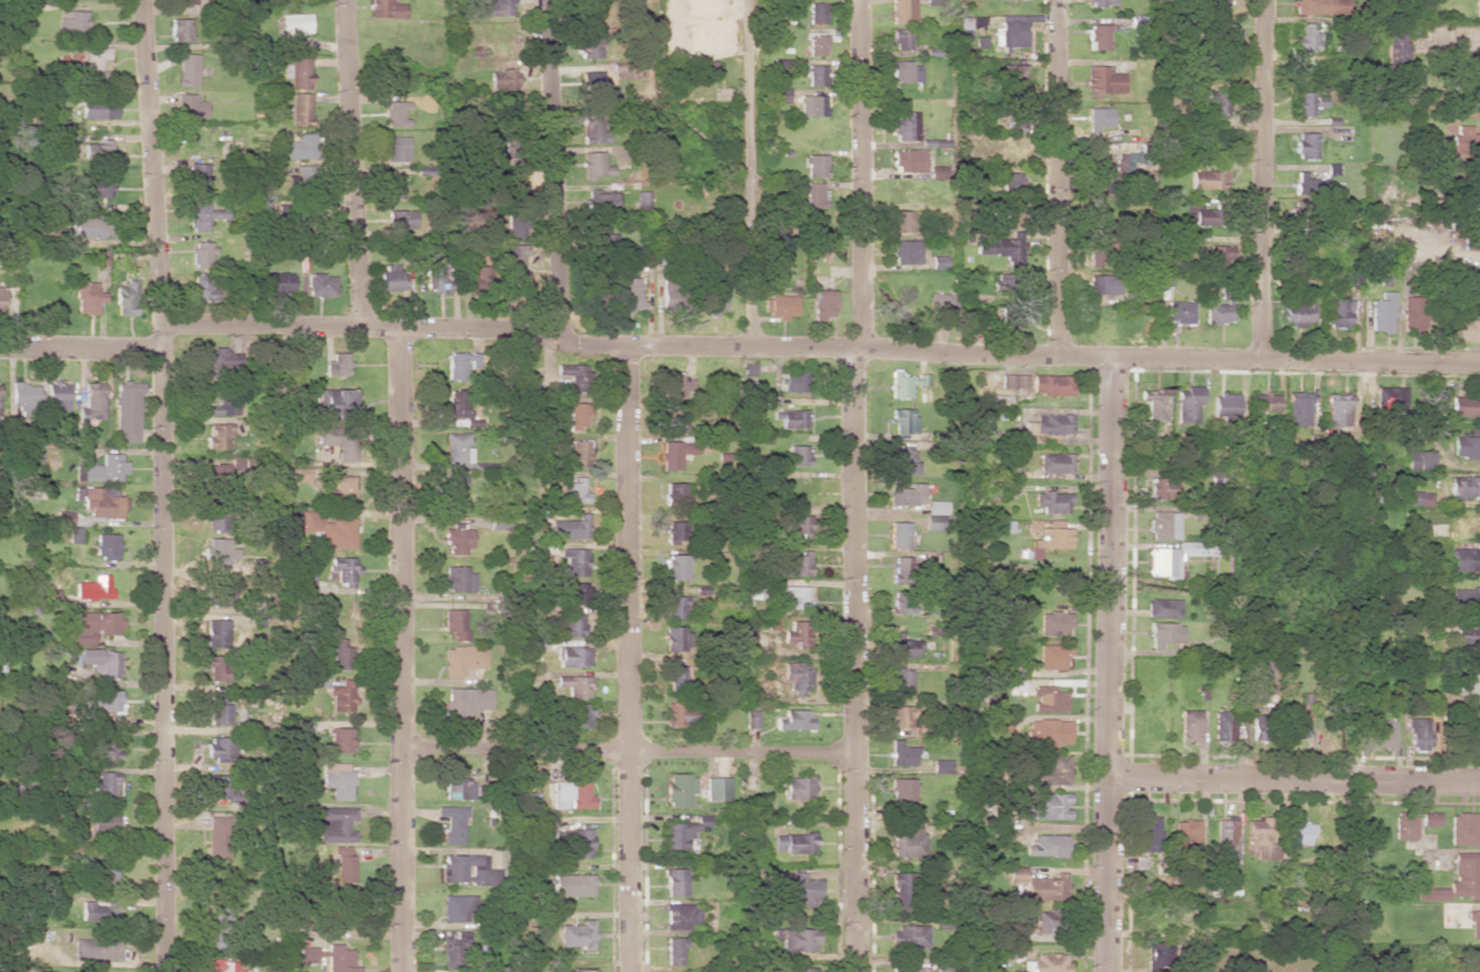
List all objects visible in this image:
building: (1004, 0)
building: (184, 2)
building: (1101, 3)
building: (1213, 5)
building: (1320, 6)
building: (493, 8)
building: (386, 9)
building: (588, 9)
building: (1478, 9)
building: (902, 11)
building: (816, 13)
building: (74, 22)
building: (294, 29)
building: (180, 30)
building: (1015, 30)
building: (1218, 31)
building: (1099, 36)
building: (1305, 37)
building: (901, 39)
building: (816, 45)
building: (589, 46)
building: (1395, 48)
building: (90, 63)
building: (188, 70)
building: (708, 71)
building: (298, 72)
building: (905, 72)
building: (815, 75)
building: (1011, 75)
building: (505, 79)
building: (1102, 81)
building: (596, 88)
building: (1470, 94)
building: (780, 95)
building: (1215, 103)
building: (1307, 103)
building: (812, 105)
building: (190, 107)
building: (98, 109)
building: (301, 109)
building: (396, 113)
building: (1098, 118)
building: (1015, 120)
building: (906, 127)
building: (594, 131)
building: (1461, 138)
building: (1477, 141)
building: (1012, 146)
building: (1305, 146)
building: (302, 147)
building: (397, 148)
building: (98, 151)
building: (908, 160)
road: (351, 162)
building: (595, 166)
building: (815, 166)
road: (554, 167)
road: (750, 172)
building: (304, 176)
road: (1054, 176)
building: (1208, 179)
road: (1260, 179)
building: (199, 180)
building: (1010, 182)
building: (1305, 184)
building: (515, 187)
building: (97, 188)
building: (396, 188)
building: (1476, 194)
building: (814, 195)
building: (603, 201)
building: (643, 201)
building: (204, 216)
building: (401, 219)
building: (902, 221)
building: (91, 227)
building: (516, 227)
building: (600, 236)
building: (1471, 243)
building: (999, 249)
building: (905, 252)
building: (202, 254)
building: (1218, 256)
building: (101, 258)
building: (938, 262)
building: (517, 264)
building: (391, 277)
building: (479, 277)
building: (437, 280)
building: (1469, 281)
building: (279, 283)
building: (321, 285)
building: (1102, 285)
building: (204, 288)
building: (630, 294)
building: (597, 296)
building: (2, 297)
building: (87, 297)
building: (124, 299)
building: (716, 301)
building: (940, 303)
building: (823, 304)
building: (781, 305)
building: (1179, 312)
building: (1220, 313)
building: (1298, 313)
building: (1338, 313)
building: (1382, 313)
building: (1412, 315)
building: (1006, 317)
building: (1465, 330)
road: (820, 346)
road: (81, 353)
building: (220, 361)
building: (337, 365)
building: (458, 366)
building: (574, 376)
building: (792, 382)
building: (1014, 382)
building: (905, 383)
building: (677, 385)
building: (1051, 385)
building: (58, 395)
building: (1387, 396)
building: (24, 397)
building: (93, 400)
building: (1155, 402)
building: (1264, 403)
building: (1188, 405)
building: (1224, 405)
building: (222, 406)
building: (331, 406)
building: (1465, 407)
building: (1298, 409)
building: (1338, 410)
building: (127, 412)
building: (576, 415)
building: (675, 418)
building: (792, 418)
building: (903, 420)
building: (1053, 423)
building: (219, 437)
building: (339, 441)
building: (1467, 445)
building: (457, 448)
building: (1152, 451)
building: (579, 453)
building: (673, 454)
building: (799, 456)
building: (1420, 460)
building: (905, 461)
building: (1054, 463)
building: (105, 469)
building: (302, 474)
road: (163, 485)
road: (858, 486)
building: (1465, 487)
building: (574, 489)
building: (1164, 489)
building: (340, 490)
building: (454, 493)
building: (675, 494)
building: (906, 494)
building: (1380, 497)
building: (1414, 499)
building: (1053, 502)
building: (938, 507)
building: (65, 518)
building: (217, 518)
building: (498, 522)
building: (933, 522)
building: (799, 525)
building: (1034, 525)
building: (1163, 525)
building: (568, 528)
building: (675, 532)
building: (338, 534)
building: (74, 535)
building: (899, 535)
building: (1050, 541)
building: (457, 542)
building: (106, 546)
building: (218, 554)
building: (1465, 560)
building: (573, 561)
building: (792, 564)
building: (675, 567)
building: (343, 569)
building: (901, 569)
building: (458, 579)
building: (308, 584)
building: (93, 589)
building: (575, 593)
building: (45, 594)
building: (219, 594)
building: (793, 597)
building: (1465, 598)
building: (904, 601)
building: (674, 607)
building: (1163, 608)
building: (455, 623)
building: (1055, 624)
building: (91, 625)
building: (570, 625)
building: (795, 633)
building: (216, 634)
building: (1164, 634)
building: (1468, 634)
building: (673, 638)
building: (901, 646)
road: (400, 651)
building: (340, 655)
building: (572, 657)
building: (1053, 657)
road: (630, 660)
building: (100, 663)
road: (1108, 663)
building: (215, 668)
building: (676, 676)
building: (798, 679)
building: (901, 681)
building: (1468, 684)
building: (573, 685)
building: (341, 698)
building: (1048, 699)
building: (105, 701)
building: (466, 701)
building: (218, 709)
building: (676, 714)
building: (578, 715)
building: (902, 716)
building: (751, 719)
building: (794, 720)
building: (304, 724)
building: (1223, 726)
building: (1297, 726)
building: (1190, 727)
building: (1259, 728)
building: (1475, 729)
building: (1049, 732)
building: (1379, 735)
building: (1417, 735)
building: (341, 740)
building: (219, 749)
building: (105, 750)
road: (626, 754)
building: (901, 754)
building: (941, 766)
building: (1056, 771)
building: (338, 780)
road: (1293, 784)
building: (104, 787)
building: (219, 787)
building: (796, 788)
building: (459, 789)
building: (716, 789)
building: (679, 790)
building: (902, 792)
building: (570, 795)
building: (530, 801)
building: (1051, 806)
building: (1430, 819)
building: (452, 823)
building: (337, 824)
building: (103, 825)
building: (1405, 827)
building: (1465, 829)
building: (683, 833)
building: (1148, 833)
building: (1186, 833)
building: (1301, 833)
building: (1226, 835)
building: (216, 836)
building: (1259, 837)
building: (907, 842)
building: (580, 843)
building: (794, 843)
building: (1046, 846)
building: (345, 869)
building: (465, 869)
building: (102, 873)
building: (675, 882)
building: (1456, 882)
building: (572, 885)
building: (1043, 889)
building: (901, 891)
building: (457, 908)
building: (97, 912)
building: (681, 917)
building: (1044, 922)
building: (1474, 925)
building: (218, 929)
building: (577, 935)
building: (909, 936)
building: (797, 939)
building: (453, 947)
building: (96, 949)
building: (673, 950)
building: (308, 954)
building: (1158, 956)
building: (341, 959)
building: (1046, 963)
building: (220, 966)
building: (797, 969)
building: (906, 969)
building: (578, 971)

